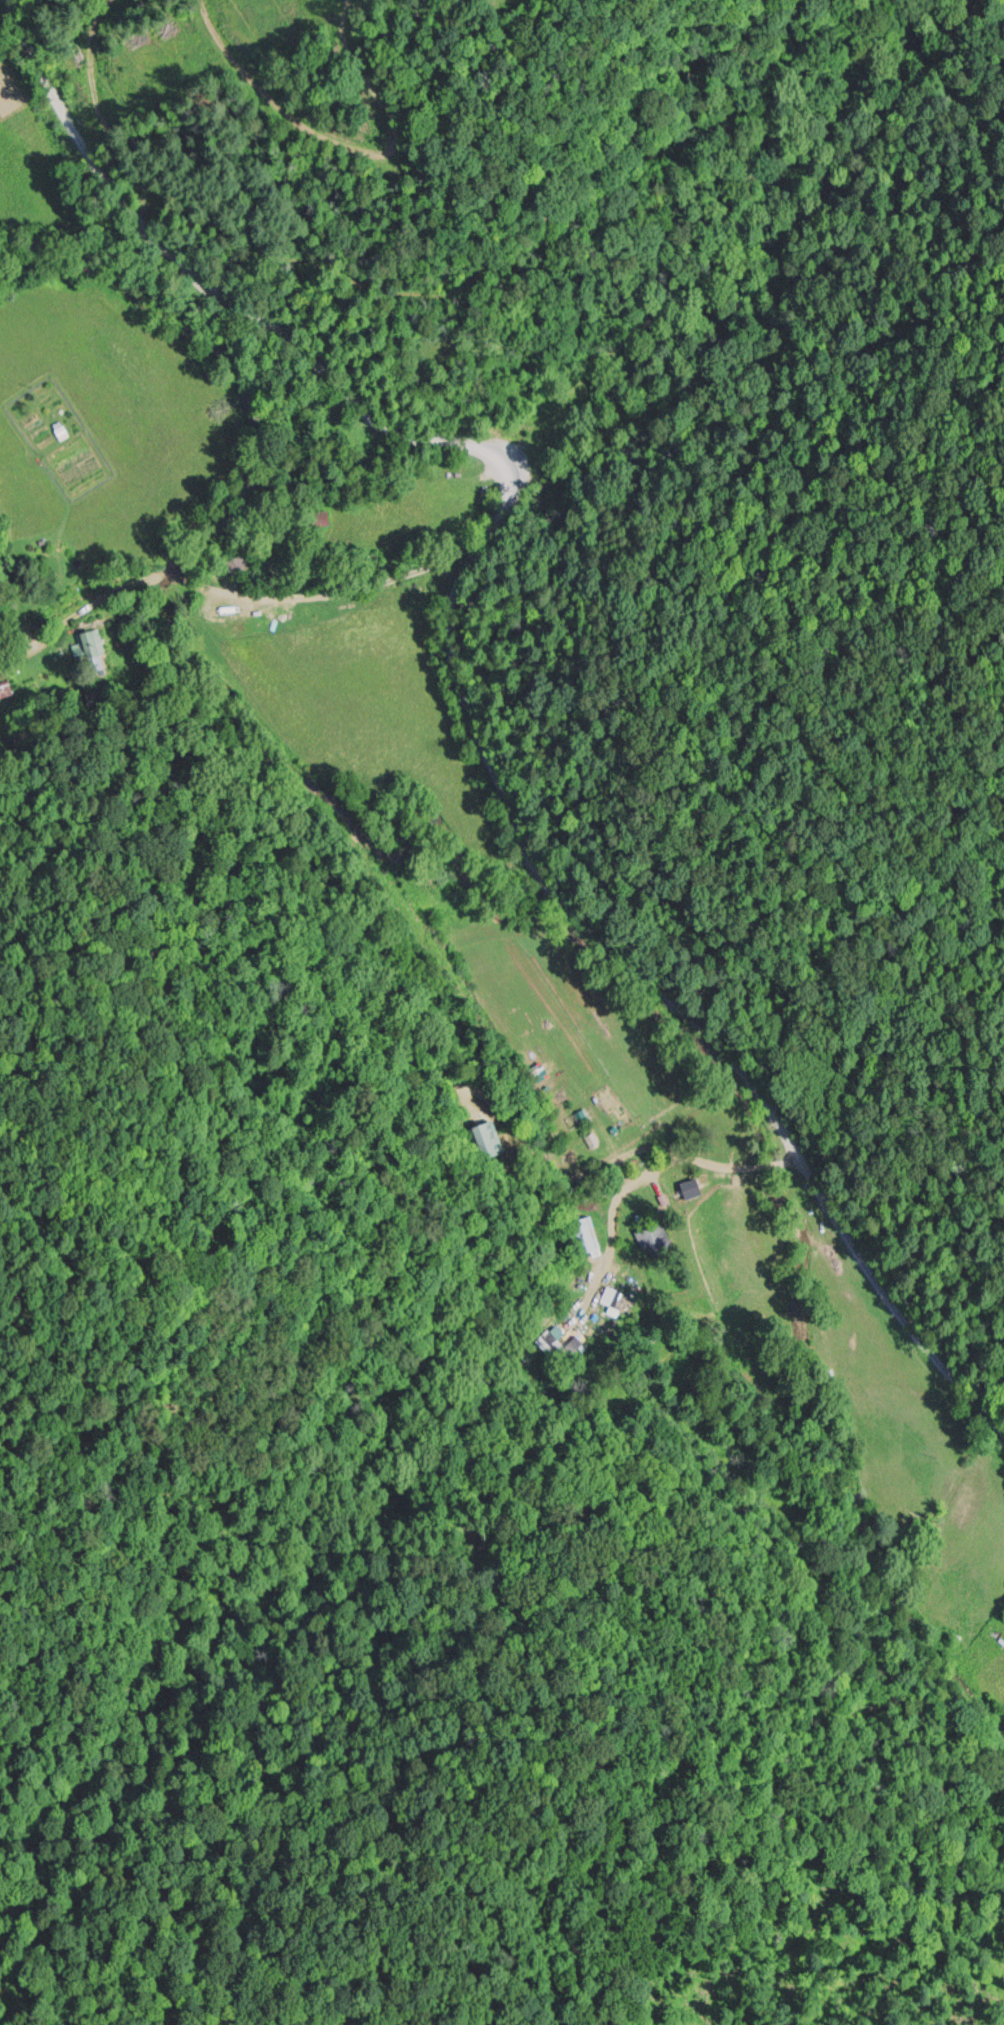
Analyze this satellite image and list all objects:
road: (345, 591)
road: (461, 674)
building: (7, 688)
road: (642, 1177)
building: (589, 1235)
building: (659, 1236)
building: (622, 1298)
building: (553, 1343)

